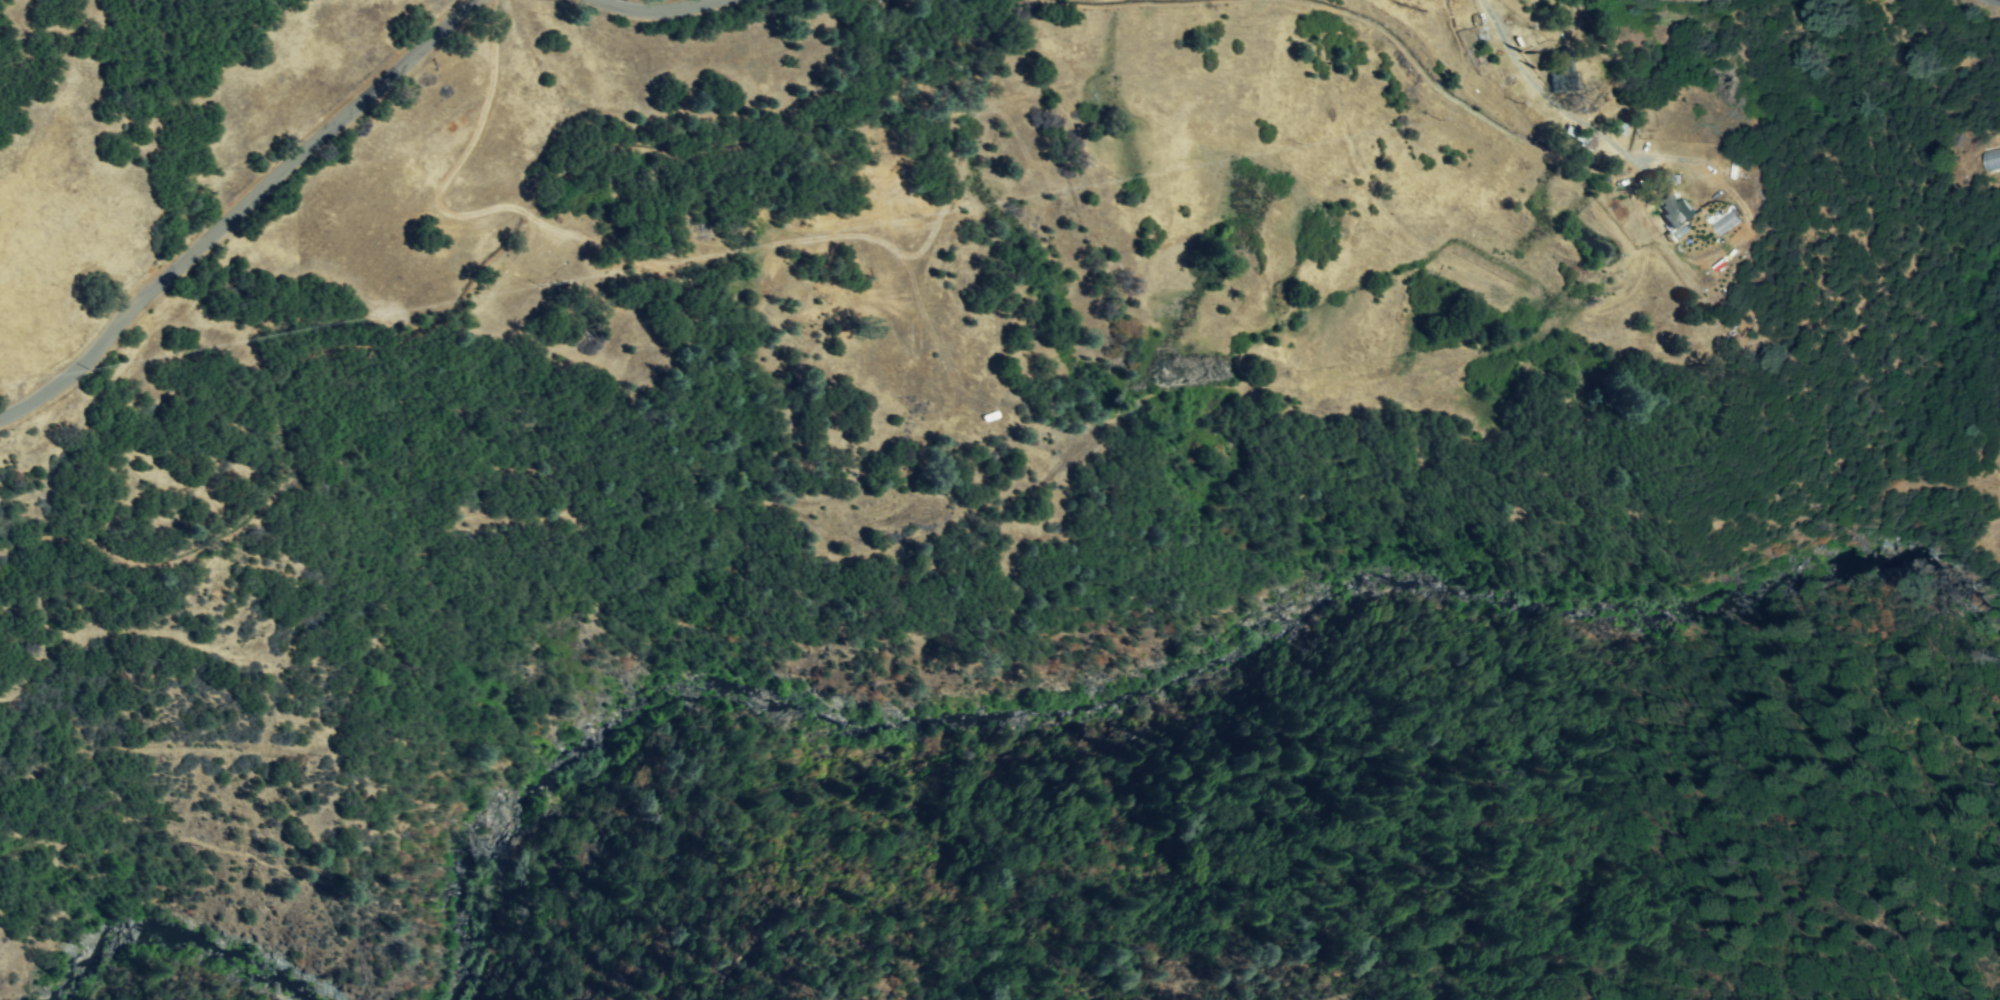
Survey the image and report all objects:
road: (1998, 0)
road: (655, 11)
road: (1552, 102)
building: (1992, 161)
building: (1674, 211)
road: (237, 212)

